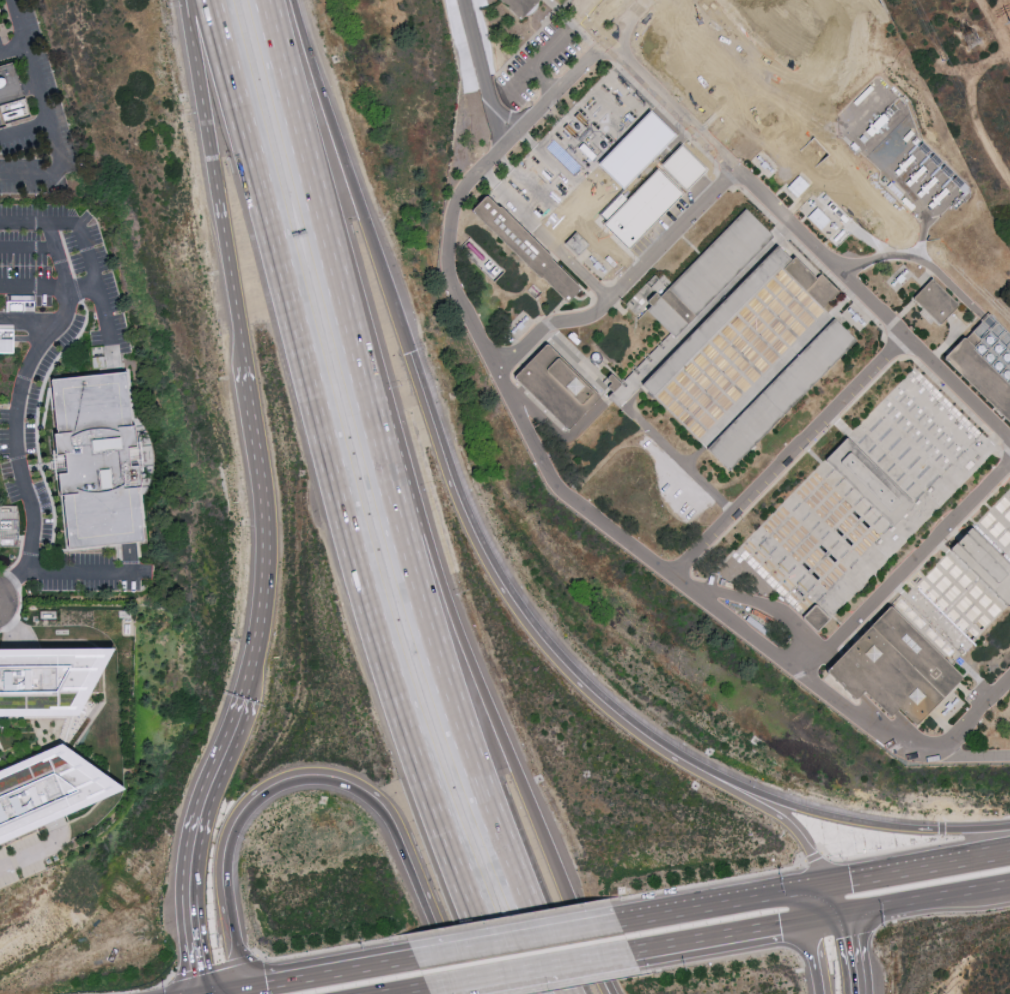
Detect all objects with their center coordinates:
building: (517, 5)
building: (742, 8)
road: (29, 38)
power tower: (973, 41)
parking lot: (1, 54)
road: (478, 54)
road: (529, 67)
road: (543, 77)
road: (200, 101)
road: (302, 117)
parking lot: (35, 121)
road: (26, 130)
road: (55, 137)
building: (641, 148)
building: (597, 169)
road: (807, 239)
parking lot: (23, 244)
road: (85, 245)
road: (27, 250)
road: (935, 274)
parking lot: (94, 276)
road: (230, 276)
road: (623, 284)
road: (49, 288)
building: (939, 299)
road: (32, 317)
building: (712, 345)
road: (9, 379)
road: (13, 403)
parking lot: (31, 435)
road: (561, 435)
road: (449, 451)
road: (788, 458)
building: (100, 460)
road: (680, 462)
road: (545, 468)
building: (862, 501)
road: (335, 502)
road: (269, 525)
road: (902, 567)
road: (84, 573)
road: (440, 574)
parking lot: (84, 576)
road: (6, 602)
building: (934, 621)
road: (434, 622)
building: (48, 681)
road: (971, 719)
road: (323, 783)
building: (48, 792)
road: (215, 796)
road: (976, 819)
road: (881, 825)
road: (941, 828)
road: (798, 834)
road: (881, 851)
road: (813, 857)
road: (27, 858)
road: (920, 866)
traffic signals: (830, 883)
road: (694, 885)
road: (924, 892)
road: (763, 894)
road: (834, 895)
road: (573, 907)
traffic signals: (838, 907)
road: (661, 910)
road: (820, 910)
road: (541, 913)
traffic signals: (803, 913)
road: (621, 917)
road: (510, 918)
road: (478, 924)
road: (451, 929)
road: (719, 929)
road: (439, 931)
road: (518, 936)
road: (201, 944)
road: (342, 947)
road: (593, 949)
road: (843, 950)
road: (812, 953)
road: (531, 961)
road: (215, 966)
road: (333, 970)
traffic signals: (247, 986)
road: (393, 987)
road: (143, 988)
road: (230, 990)
traffic signals: (213, 993)

